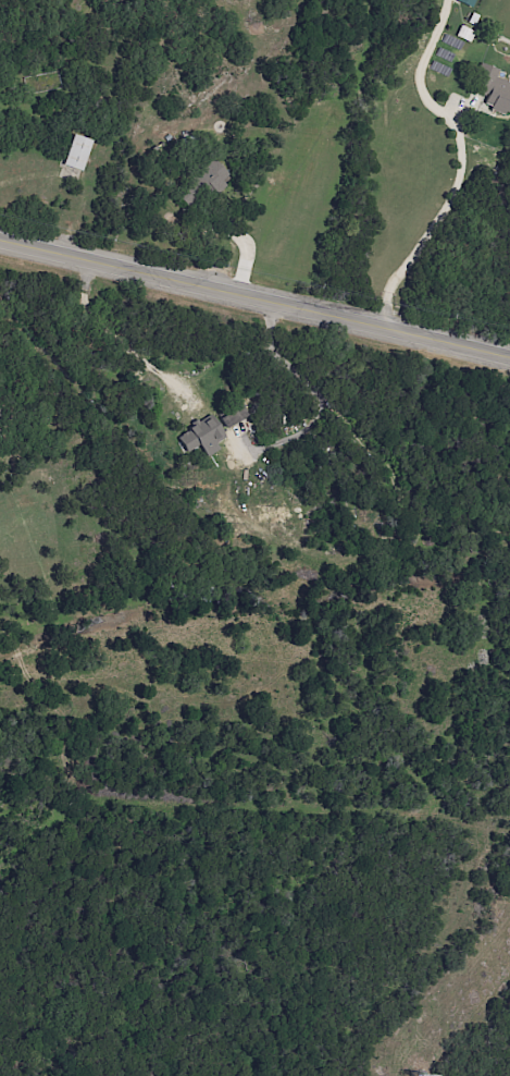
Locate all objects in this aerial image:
building: (467, 2)
building: (494, 91)
building: (77, 152)
road: (459, 160)
road: (23, 175)
building: (214, 176)
road: (254, 292)
road: (108, 338)
road: (319, 404)
building: (203, 437)
power tower: (413, 1075)

